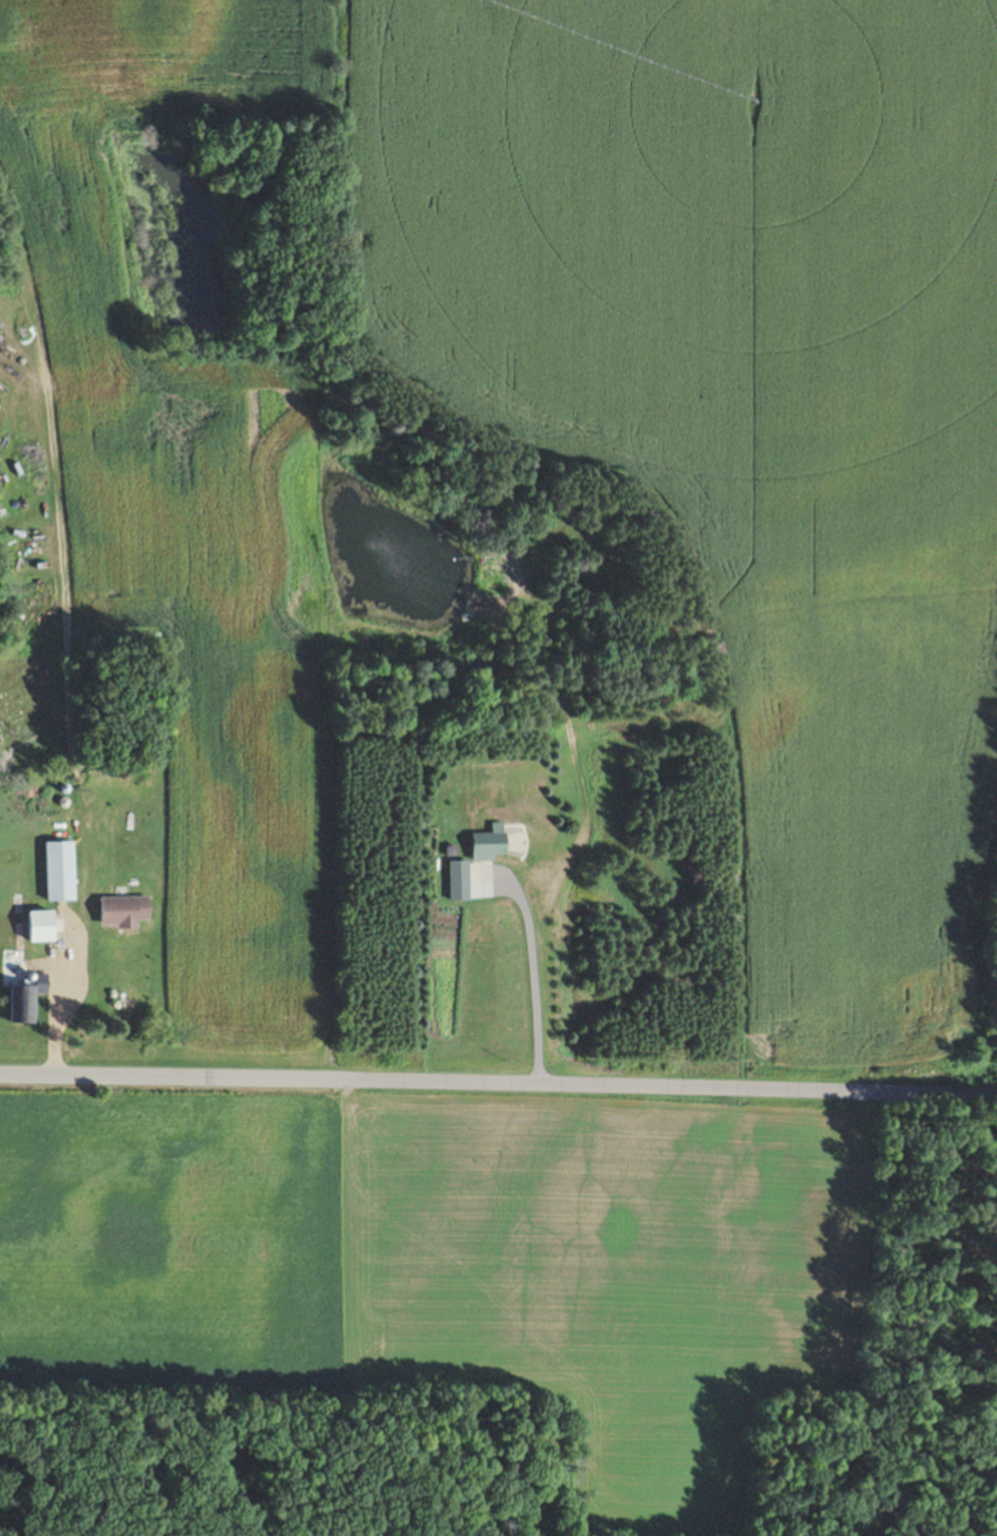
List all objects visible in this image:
building: (489, 844)
building: (59, 870)
building: (458, 873)
building: (124, 910)
building: (60, 943)
road: (530, 975)
building: (26, 1000)
road: (216, 1077)
road: (714, 1089)

